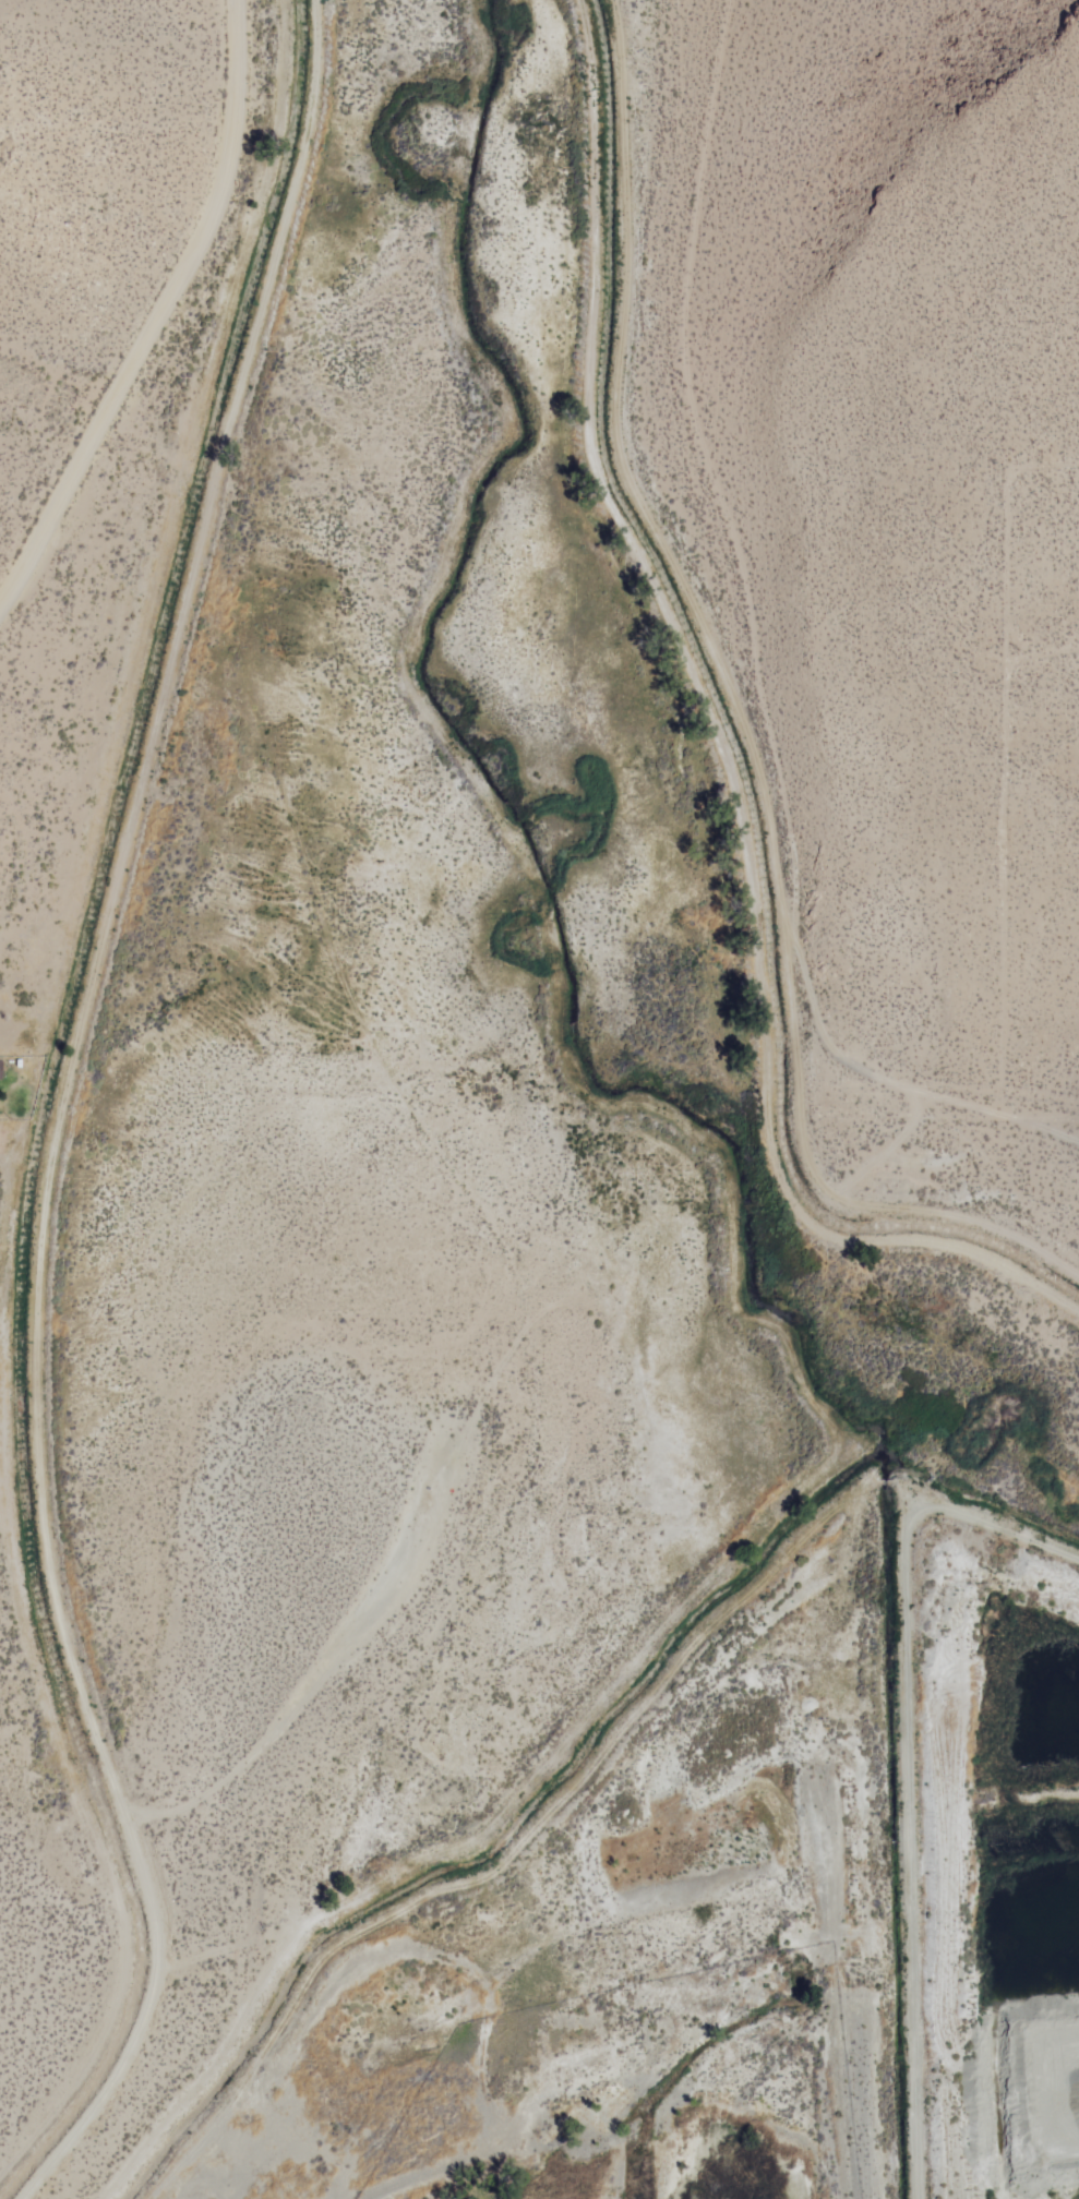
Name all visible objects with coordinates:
road: (159, 320)
road: (702, 399)
road: (747, 721)
road: (719, 752)
road: (909, 1084)
road: (65, 1113)
road: (902, 1764)
road: (482, 1837)

